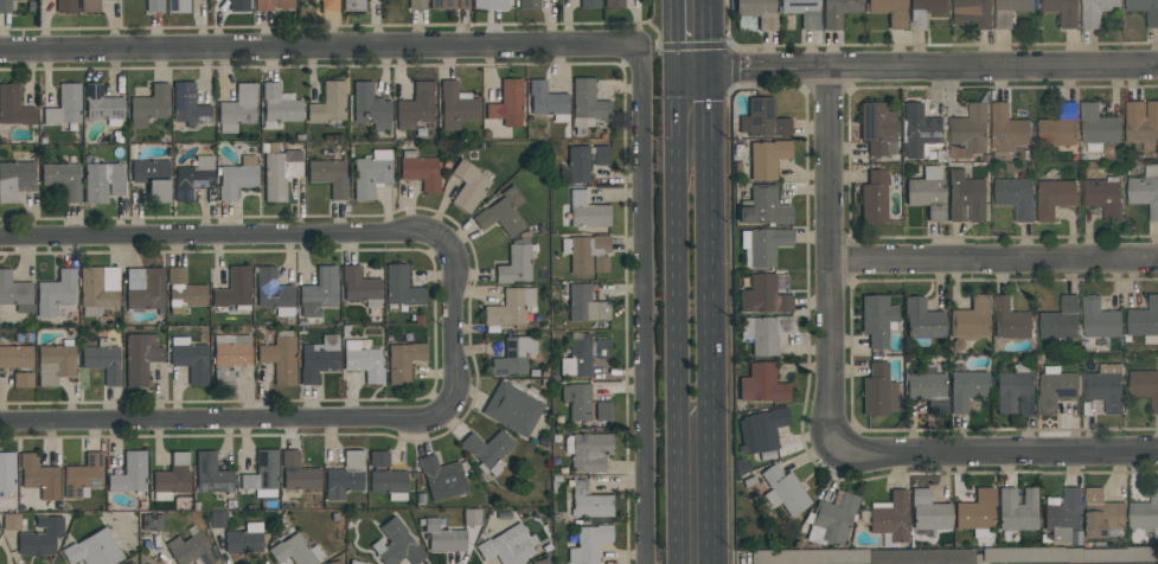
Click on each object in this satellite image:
building: (27, 0)
building: (417, 4)
building: (529, 4)
building: (589, 4)
building: (614, 4)
building: (154, 5)
building: (238, 5)
building: (273, 5)
building: (328, 5)
building: (352, 5)
building: (448, 5)
building: (488, 5)
building: (65, 6)
building: (90, 6)
building: (178, 6)
building: (5, 7)
building: (889, 11)
building: (925, 11)
building: (1010, 11)
building: (1063, 11)
building: (1096, 11)
building: (757, 12)
building: (802, 12)
building: (837, 12)
building: (973, 12)
building: (1152, 19)
road: (671, 34)
road: (321, 49)
road: (914, 66)
traffic signals: (709, 69)
traffic signals: (672, 70)
building: (545, 100)
building: (328, 104)
building: (507, 104)
building: (65, 105)
building: (103, 105)
building: (149, 105)
building: (188, 105)
building: (279, 105)
building: (586, 105)
building: (14, 107)
building: (416, 107)
building: (455, 107)
building: (370, 108)
building: (237, 109)
building: (762, 120)
building: (1141, 121)
building: (1060, 126)
building: (876, 127)
building: (1098, 127)
building: (920, 129)
building: (1007, 129)
building: (968, 132)
building: (767, 159)
building: (583, 161)
building: (280, 173)
building: (371, 173)
building: (421, 173)
building: (193, 175)
building: (328, 177)
building: (237, 178)
building: (13, 179)
building: (63, 179)
building: (152, 179)
building: (102, 181)
building: (468, 186)
building: (1145, 190)
building: (927, 193)
building: (966, 197)
building: (1016, 197)
building: (1054, 197)
building: (1103, 197)
building: (874, 198)
building: (763, 207)
building: (587, 212)
building: (503, 213)
building: (762, 246)
building: (587, 254)
road: (828, 258)
road: (992, 261)
building: (514, 265)
road: (709, 281)
building: (360, 287)
building: (401, 287)
building: (143, 289)
building: (98, 290)
building: (235, 290)
building: (183, 291)
building: (273, 291)
building: (319, 291)
building: (15, 293)
building: (56, 293)
building: (763, 296)
building: (586, 305)
road: (644, 306)
building: (510, 308)
road: (672, 316)
building: (1100, 318)
building: (1010, 319)
building: (1061, 319)
building: (877, 320)
building: (922, 320)
building: (1144, 320)
building: (970, 321)
road: (455, 332)
building: (764, 333)
building: (602, 348)
building: (229, 355)
building: (17, 357)
building: (513, 357)
building: (577, 357)
building: (140, 358)
building: (280, 358)
building: (190, 359)
building: (318, 359)
building: (103, 361)
building: (363, 361)
building: (403, 361)
building: (55, 364)
building: (23, 380)
building: (762, 384)
building: (1145, 385)
building: (1106, 386)
building: (1056, 387)
building: (966, 389)
building: (927, 390)
building: (1016, 390)
building: (877, 391)
building: (577, 400)
building: (512, 409)
building: (602, 411)
building: (761, 430)
building: (487, 450)
building: (588, 451)
road: (997, 451)
building: (378, 459)
building: (7, 473)
building: (298, 473)
building: (129, 474)
building: (211, 474)
building: (83, 475)
building: (263, 475)
building: (38, 476)
building: (345, 476)
building: (172, 478)
building: (441, 479)
building: (389, 483)
building: (782, 491)
building: (589, 502)
building: (1016, 509)
building: (928, 512)
building: (977, 513)
building: (1102, 513)
building: (1145, 513)
building: (1063, 514)
building: (471, 517)
building: (217, 519)
building: (832, 519)
building: (890, 519)
building: (11, 521)
building: (151, 523)
building: (40, 537)
building: (442, 537)
building: (244, 539)
building: (396, 544)
building: (588, 544)
building: (507, 546)
building: (191, 549)
building: (94, 550)
building: (295, 551)
building: (1115, 553)
building: (1010, 555)
building: (810, 557)
building: (921, 557)
building: (542, 562)
building: (130, 563)
building: (146, 563)
building: (334, 563)
building: (356, 563)

